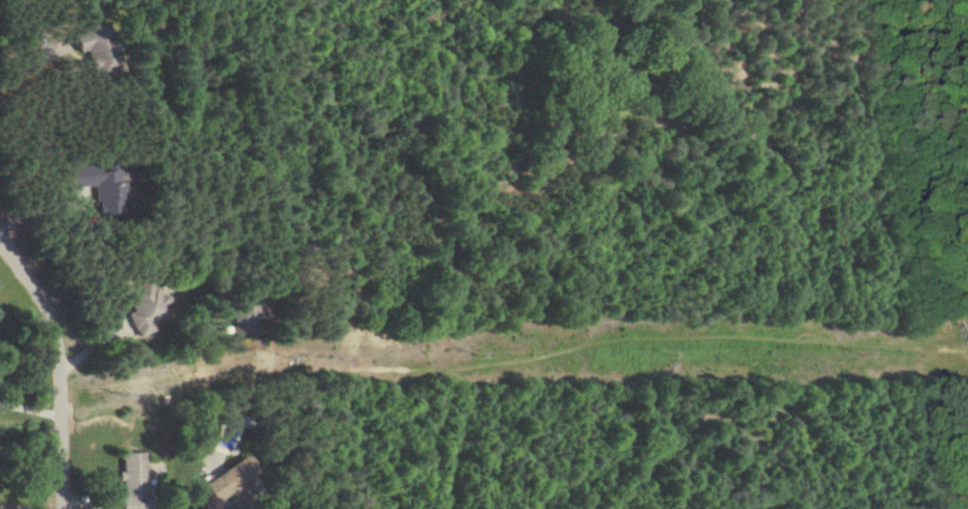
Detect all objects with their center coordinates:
building: (91, 49)
road: (32, 62)
building: (96, 186)
building: (143, 307)
building: (244, 319)
road: (60, 366)
road: (31, 407)
building: (224, 480)
building: (129, 482)
building: (145, 508)

